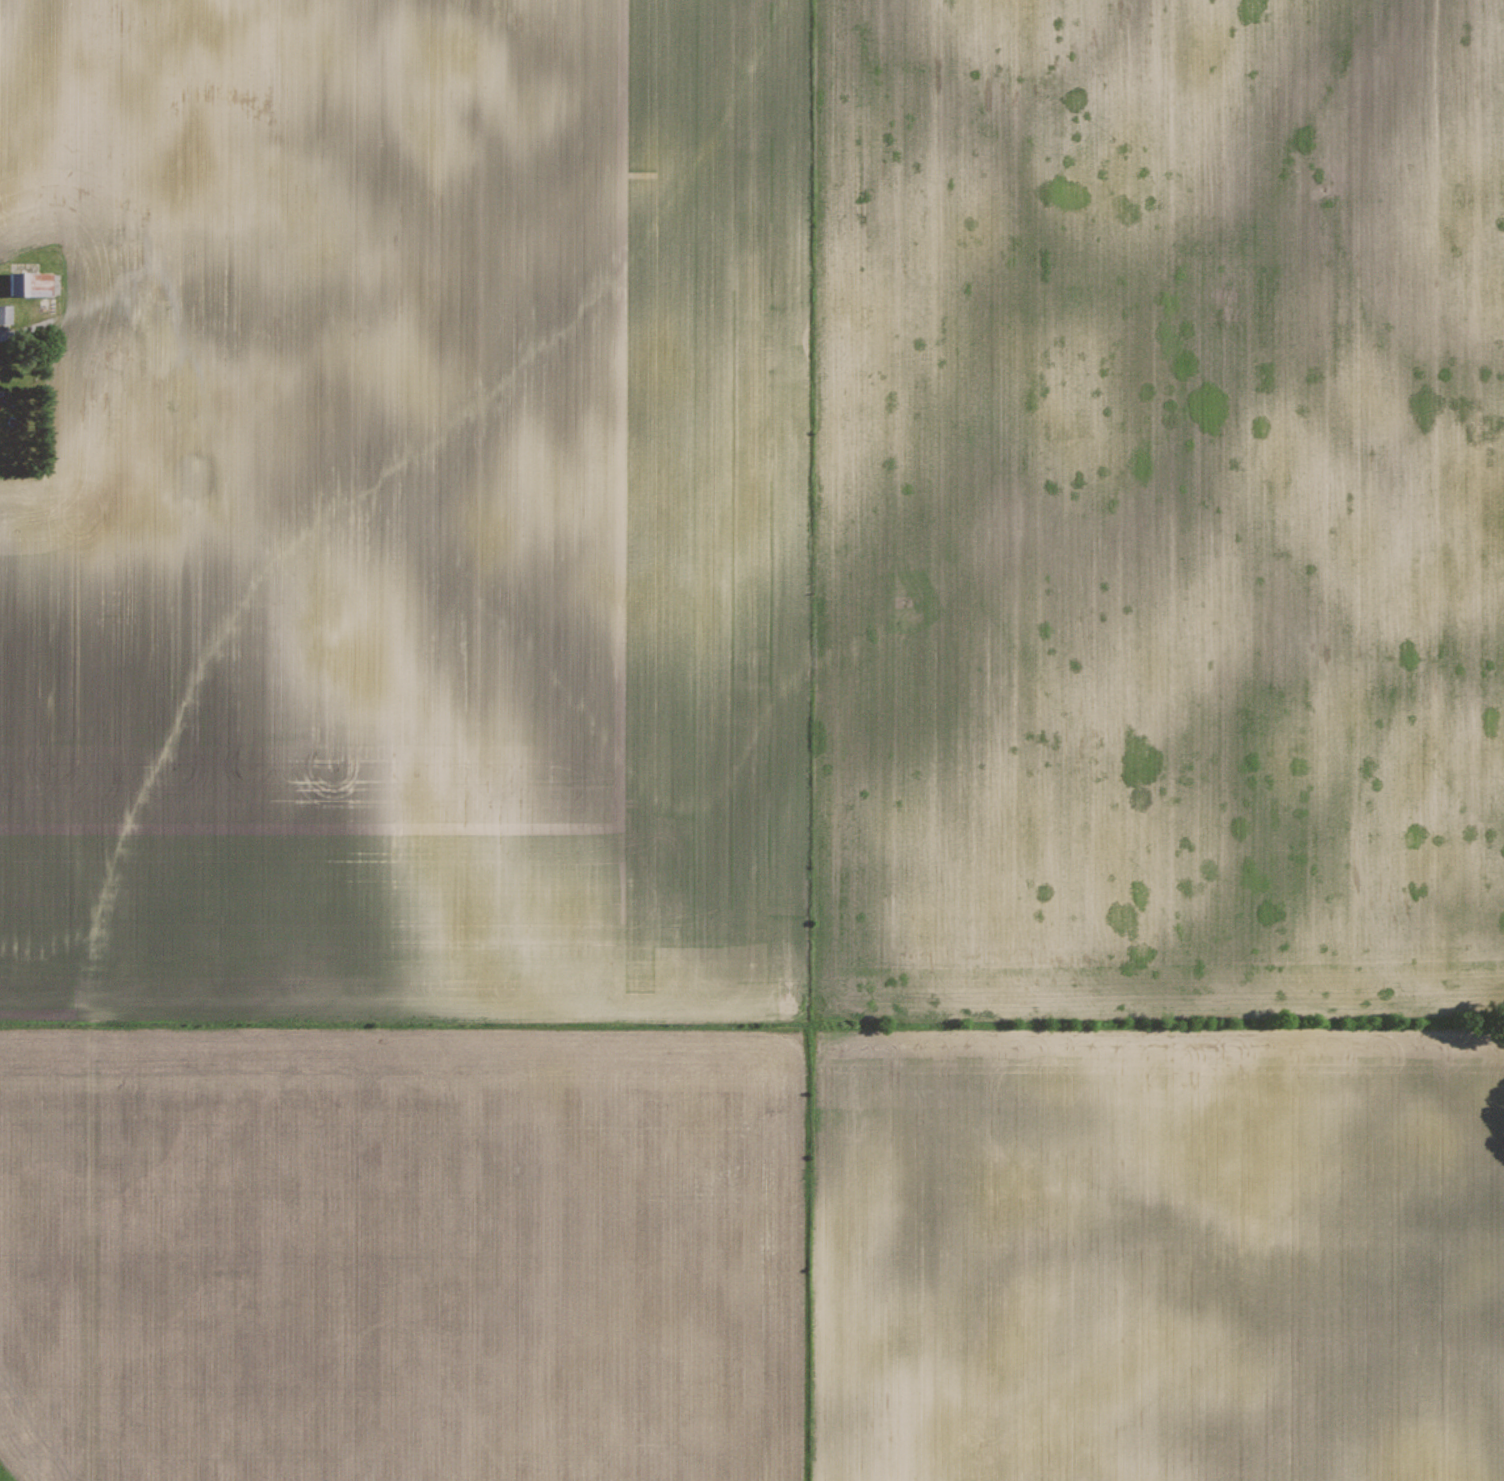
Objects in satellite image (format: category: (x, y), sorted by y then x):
building: (31, 283)
building: (5, 321)

